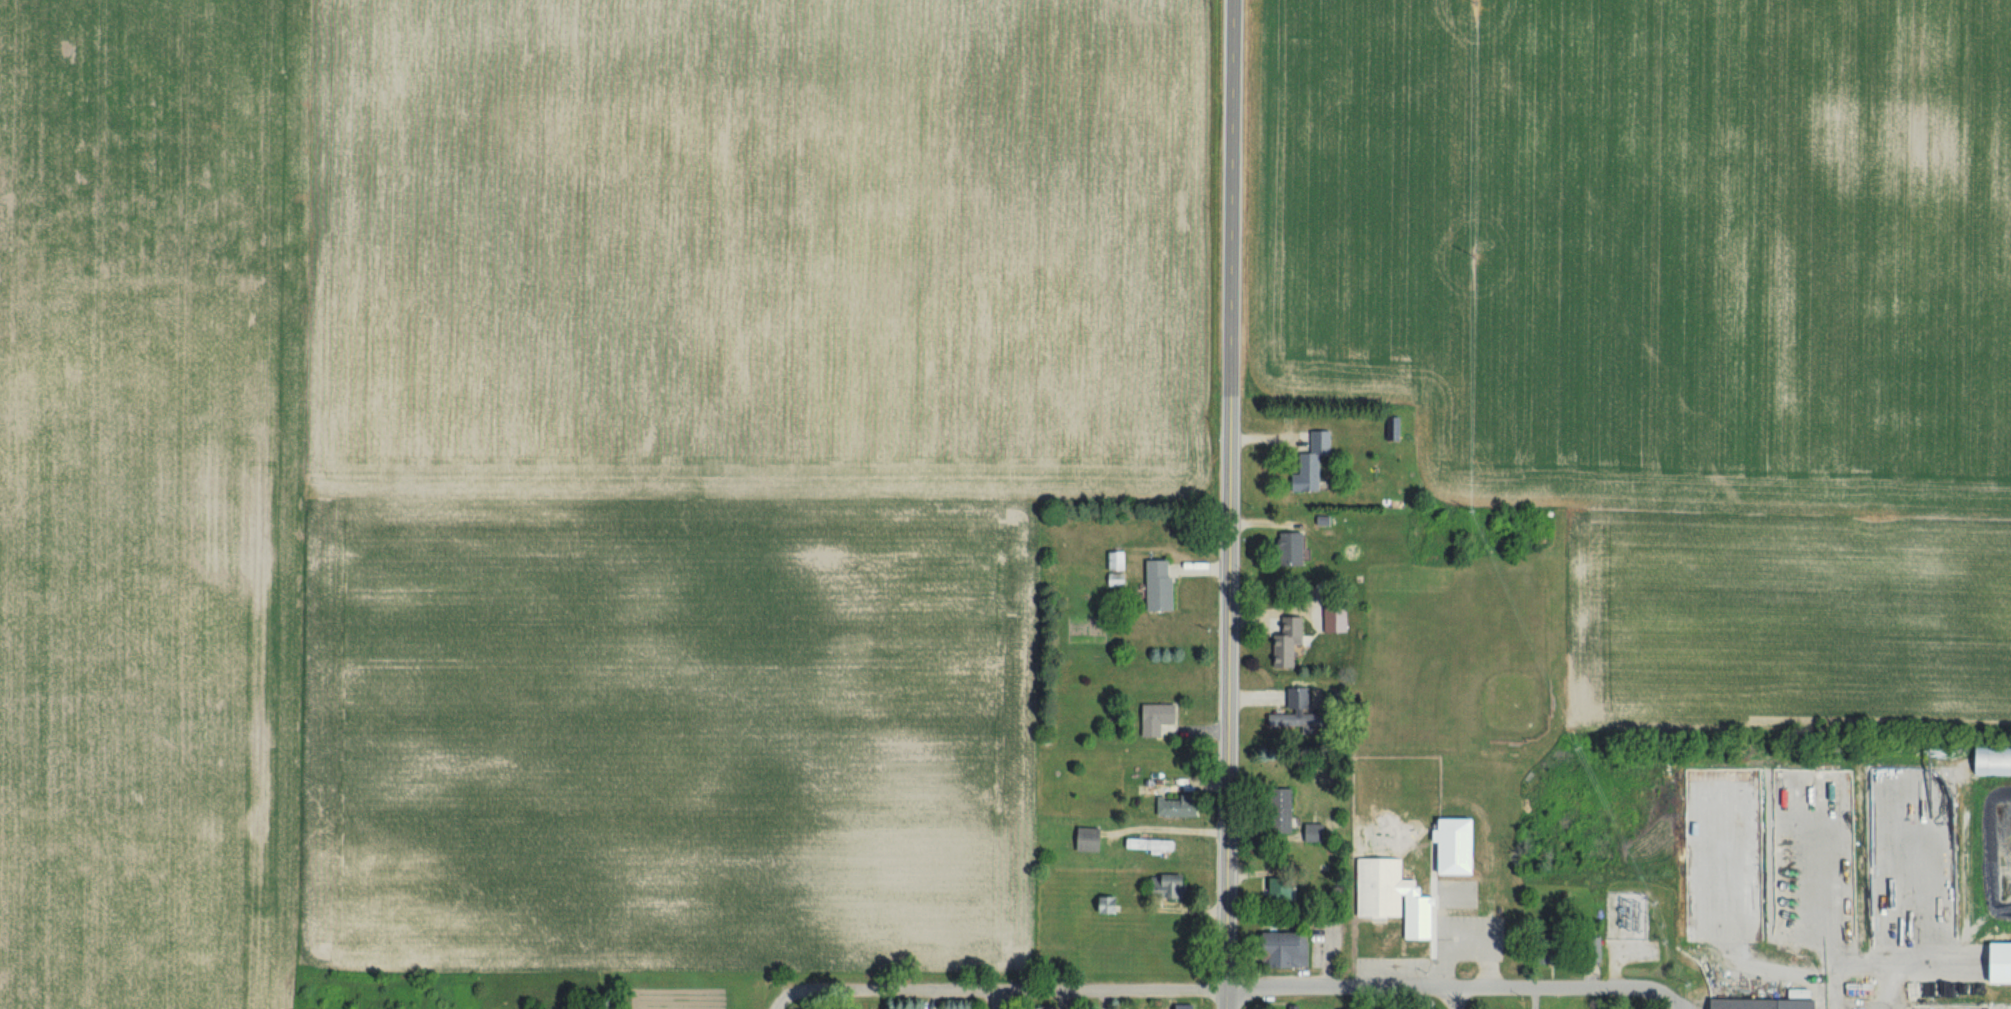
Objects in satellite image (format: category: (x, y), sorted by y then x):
building: (1314, 462)
road: (1233, 495)
building: (1296, 547)
building: (1119, 560)
building: (1119, 579)
building: (1163, 584)
building: (1339, 618)
building: (1290, 642)
park: (1485, 667)
building: (1294, 709)
building: (1160, 718)
building: (1094, 788)
building: (1180, 806)
building: (1287, 824)
building: (1317, 832)
building: (1091, 839)
building: (1152, 844)
building: (1461, 847)
building: (1171, 886)
building: (1385, 887)
building: (1285, 889)
building: (1112, 905)
building: (1291, 949)
building: (1589, 950)
building: (2002, 963)
road: (1878, 967)
road: (1898, 987)
road: (1453, 991)
road: (1003, 996)
road: (1224, 1000)
road: (1455, 1000)
road: (1682, 1001)
road: (997, 1003)
building: (1763, 1004)
road: (780, 1005)
building: (1189, 1006)

